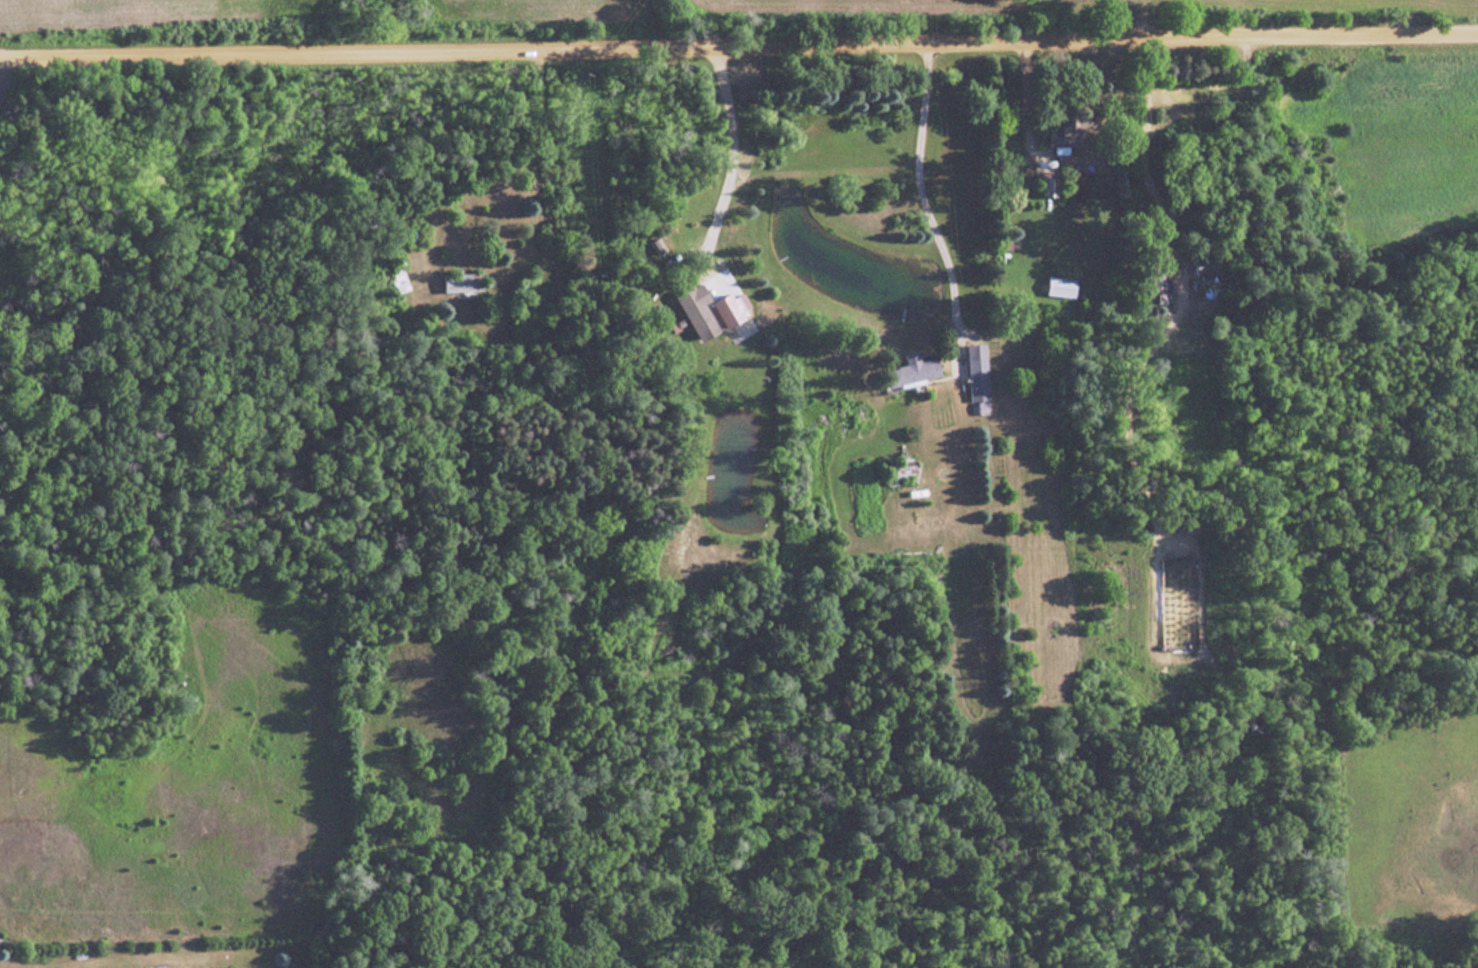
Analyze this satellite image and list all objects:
road: (738, 38)
building: (1052, 136)
road: (1150, 152)
road: (735, 158)
road: (922, 185)
building: (1206, 266)
building: (396, 281)
building: (456, 281)
building: (1057, 286)
building: (706, 310)
building: (905, 371)
building: (974, 372)
building: (898, 474)

